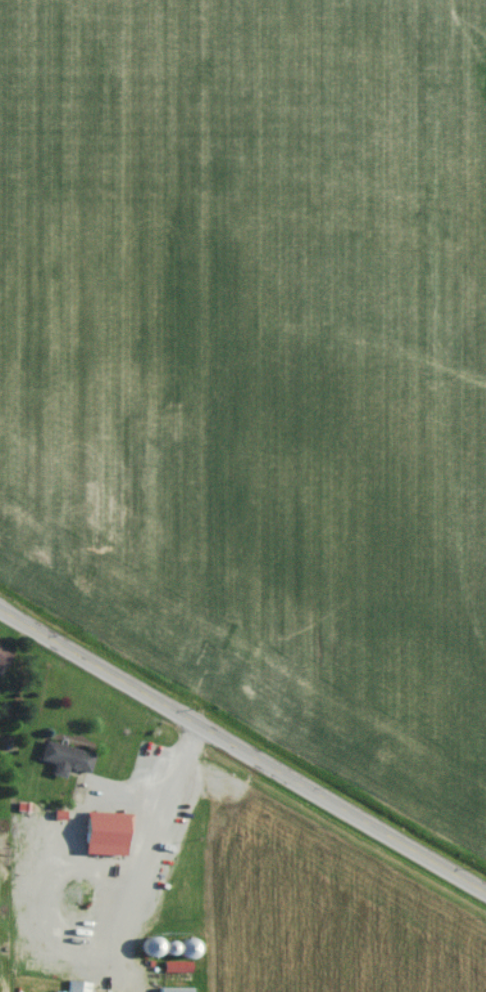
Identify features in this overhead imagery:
building: (2, 660)
road: (242, 751)
building: (61, 763)
building: (100, 837)
building: (75, 988)
building: (170, 991)

